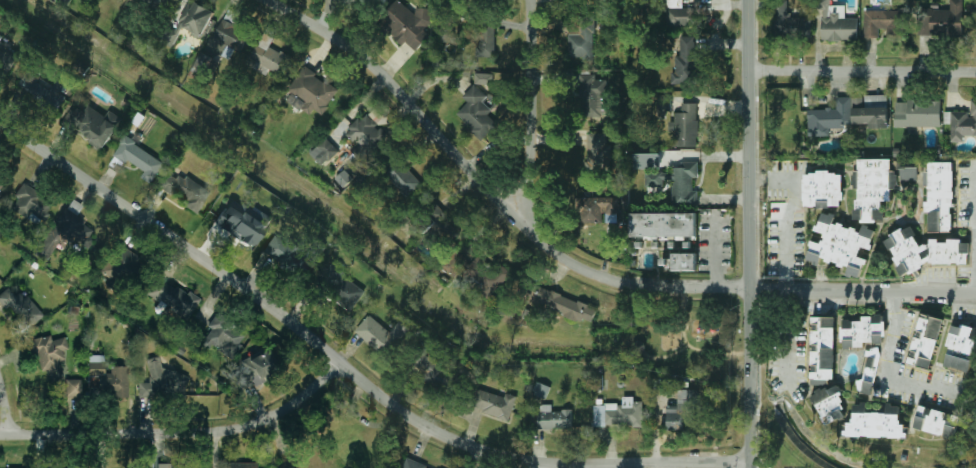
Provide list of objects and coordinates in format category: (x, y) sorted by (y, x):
building: (382, 2)
building: (158, 5)
building: (679, 14)
building: (942, 21)
building: (190, 22)
building: (836, 22)
building: (880, 22)
building: (789, 23)
building: (407, 24)
building: (449, 32)
building: (232, 35)
building: (581, 36)
building: (1, 39)
building: (486, 40)
building: (269, 55)
building: (6, 62)
building: (685, 62)
building: (201, 64)
road: (864, 70)
building: (483, 78)
building: (43, 90)
building: (592, 96)
building: (664, 104)
road: (533, 108)
building: (870, 111)
building: (477, 113)
building: (918, 113)
building: (830, 117)
building: (963, 123)
building: (93, 124)
building: (685, 126)
building: (367, 137)
building: (324, 151)
building: (597, 153)
building: (140, 159)
building: (646, 161)
building: (909, 173)
building: (400, 177)
building: (343, 178)
building: (894, 179)
building: (678, 182)
building: (1, 185)
building: (871, 188)
building: (823, 189)
building: (183, 190)
road: (490, 191)
building: (940, 197)
building: (31, 204)
building: (597, 208)
building: (242, 222)
building: (429, 224)
building: (664, 224)
building: (75, 229)
road: (787, 231)
road: (752, 234)
building: (841, 244)
building: (925, 251)
building: (284, 253)
building: (685, 261)
building: (119, 264)
building: (485, 275)
building: (341, 287)
road: (864, 293)
building: (172, 298)
building: (562, 304)
building: (20, 309)
building: (864, 331)
building: (380, 334)
building: (223, 337)
road: (785, 338)
park: (673, 339)
building: (925, 341)
building: (641, 348)
road: (694, 348)
building: (961, 348)
building: (50, 355)
road: (669, 357)
road: (896, 359)
building: (259, 368)
road: (349, 369)
building: (436, 371)
building: (869, 371)
building: (109, 378)
building: (163, 382)
building: (73, 388)
building: (541, 390)
building: (494, 403)
building: (830, 405)
road: (6, 406)
building: (682, 412)
building: (619, 413)
building: (553, 418)
building: (936, 422)
building: (875, 423)
road: (181, 433)
building: (413, 464)
building: (242, 465)
road: (534, 466)
building: (177, 467)

